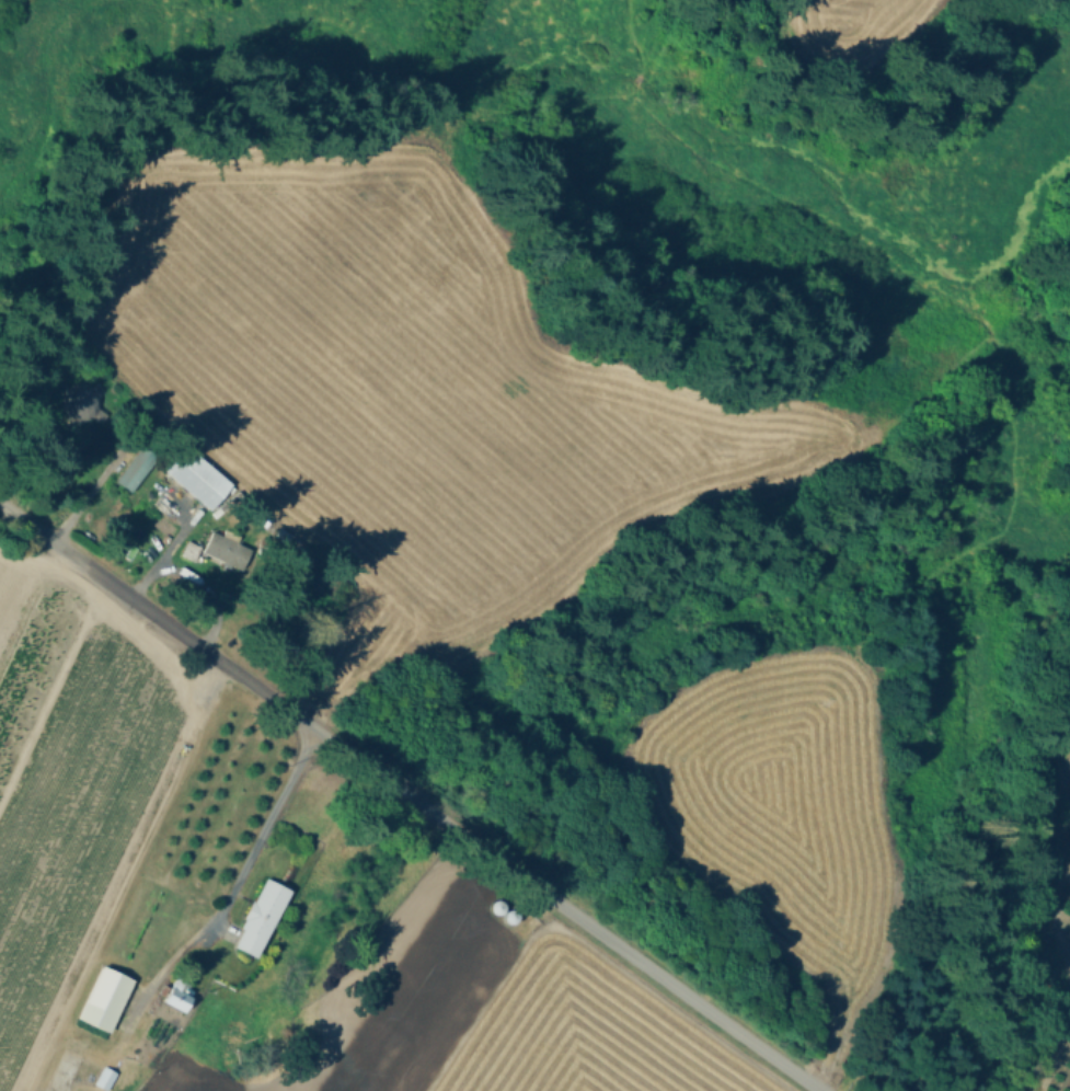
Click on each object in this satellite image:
building: (81, 401)
building: (133, 473)
building: (193, 478)
road: (85, 490)
road: (411, 796)
road: (269, 816)
building: (254, 918)
crop: (283, 923)
building: (173, 996)
building: (101, 1000)
building: (102, 1080)

